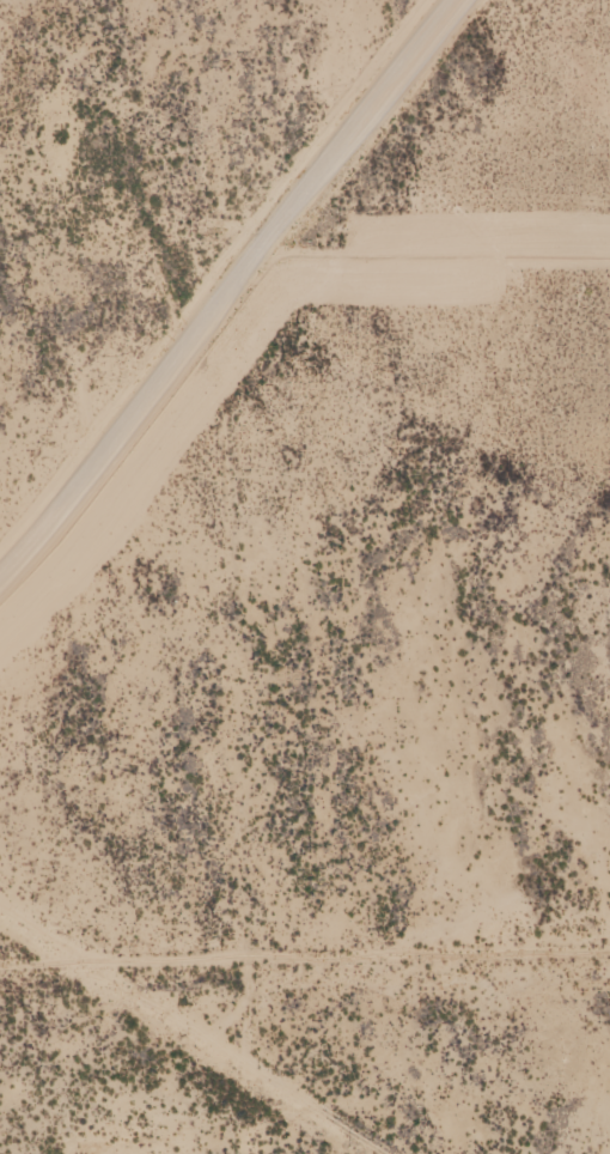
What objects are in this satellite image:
road: (118, 427)
road: (225, 542)

